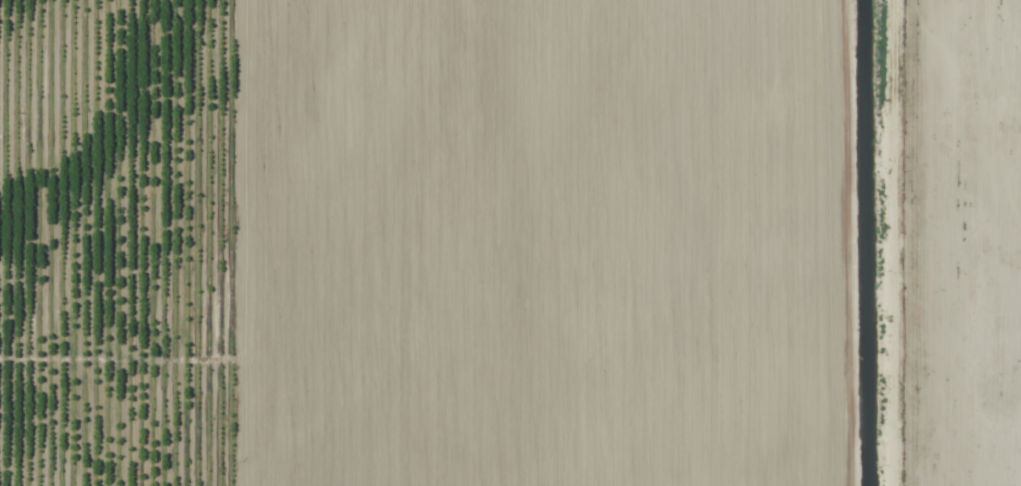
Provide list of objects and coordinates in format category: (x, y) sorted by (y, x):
road: (877, 243)

